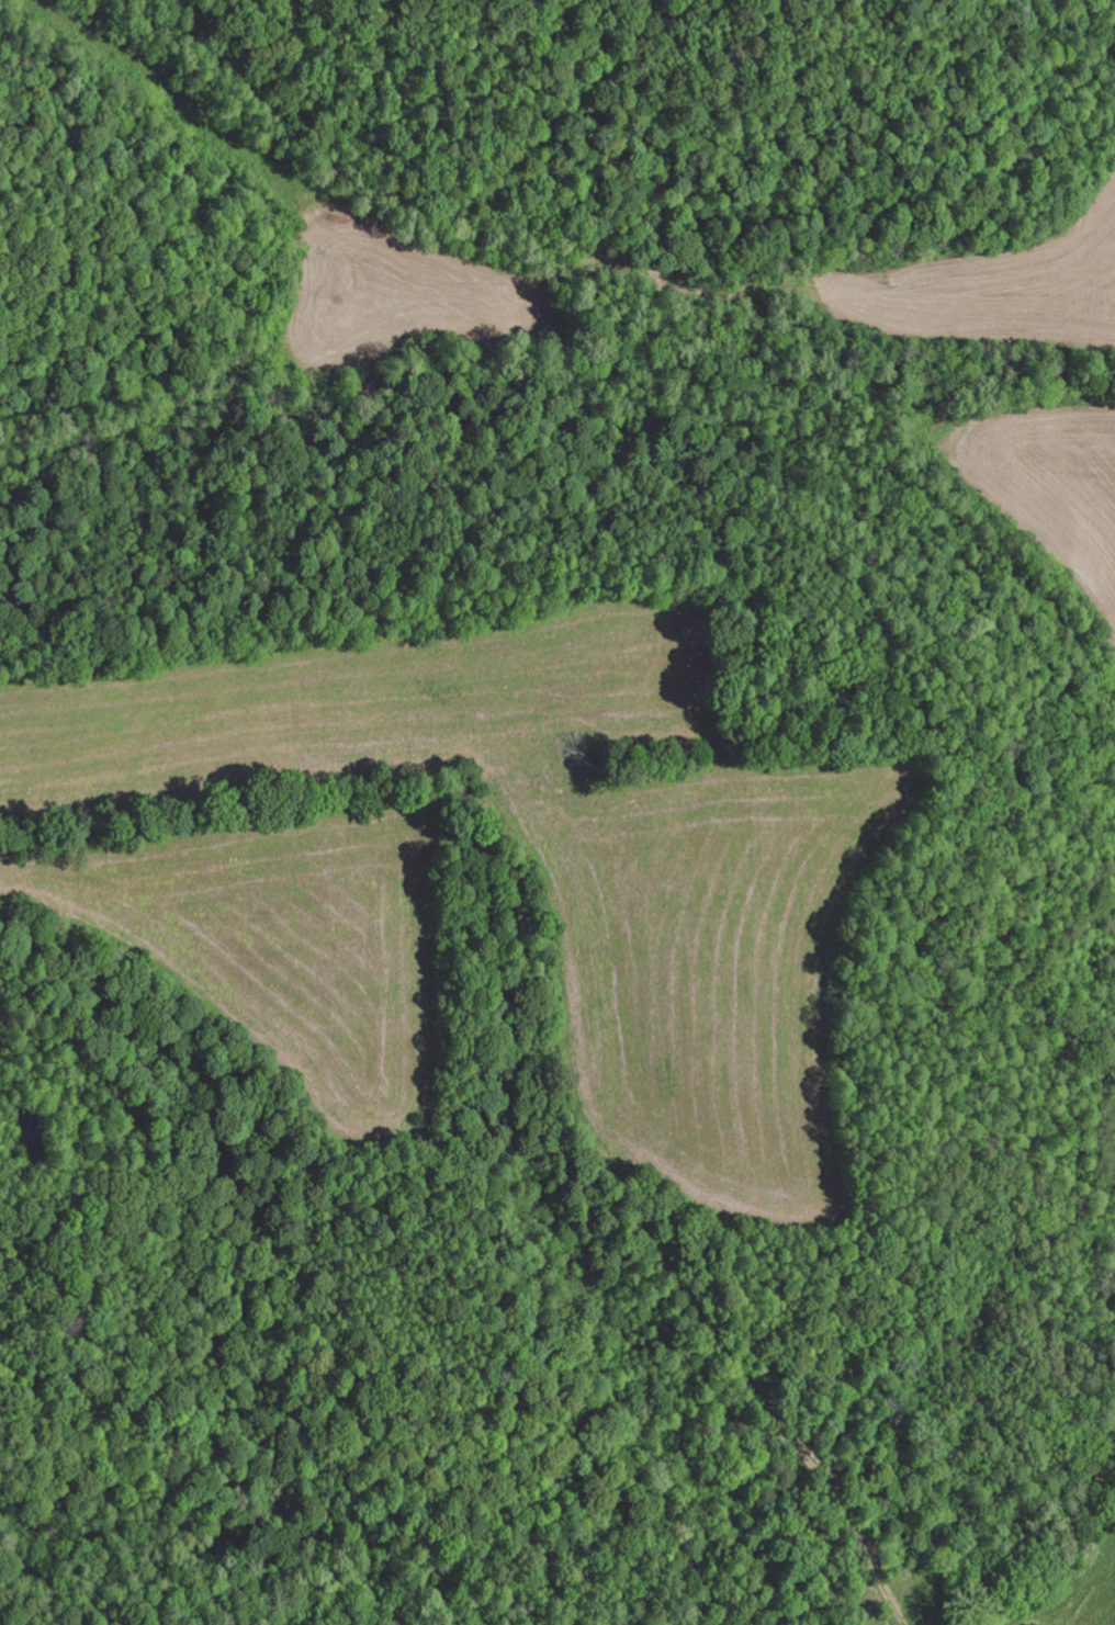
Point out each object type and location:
building: (1035, 1624)

